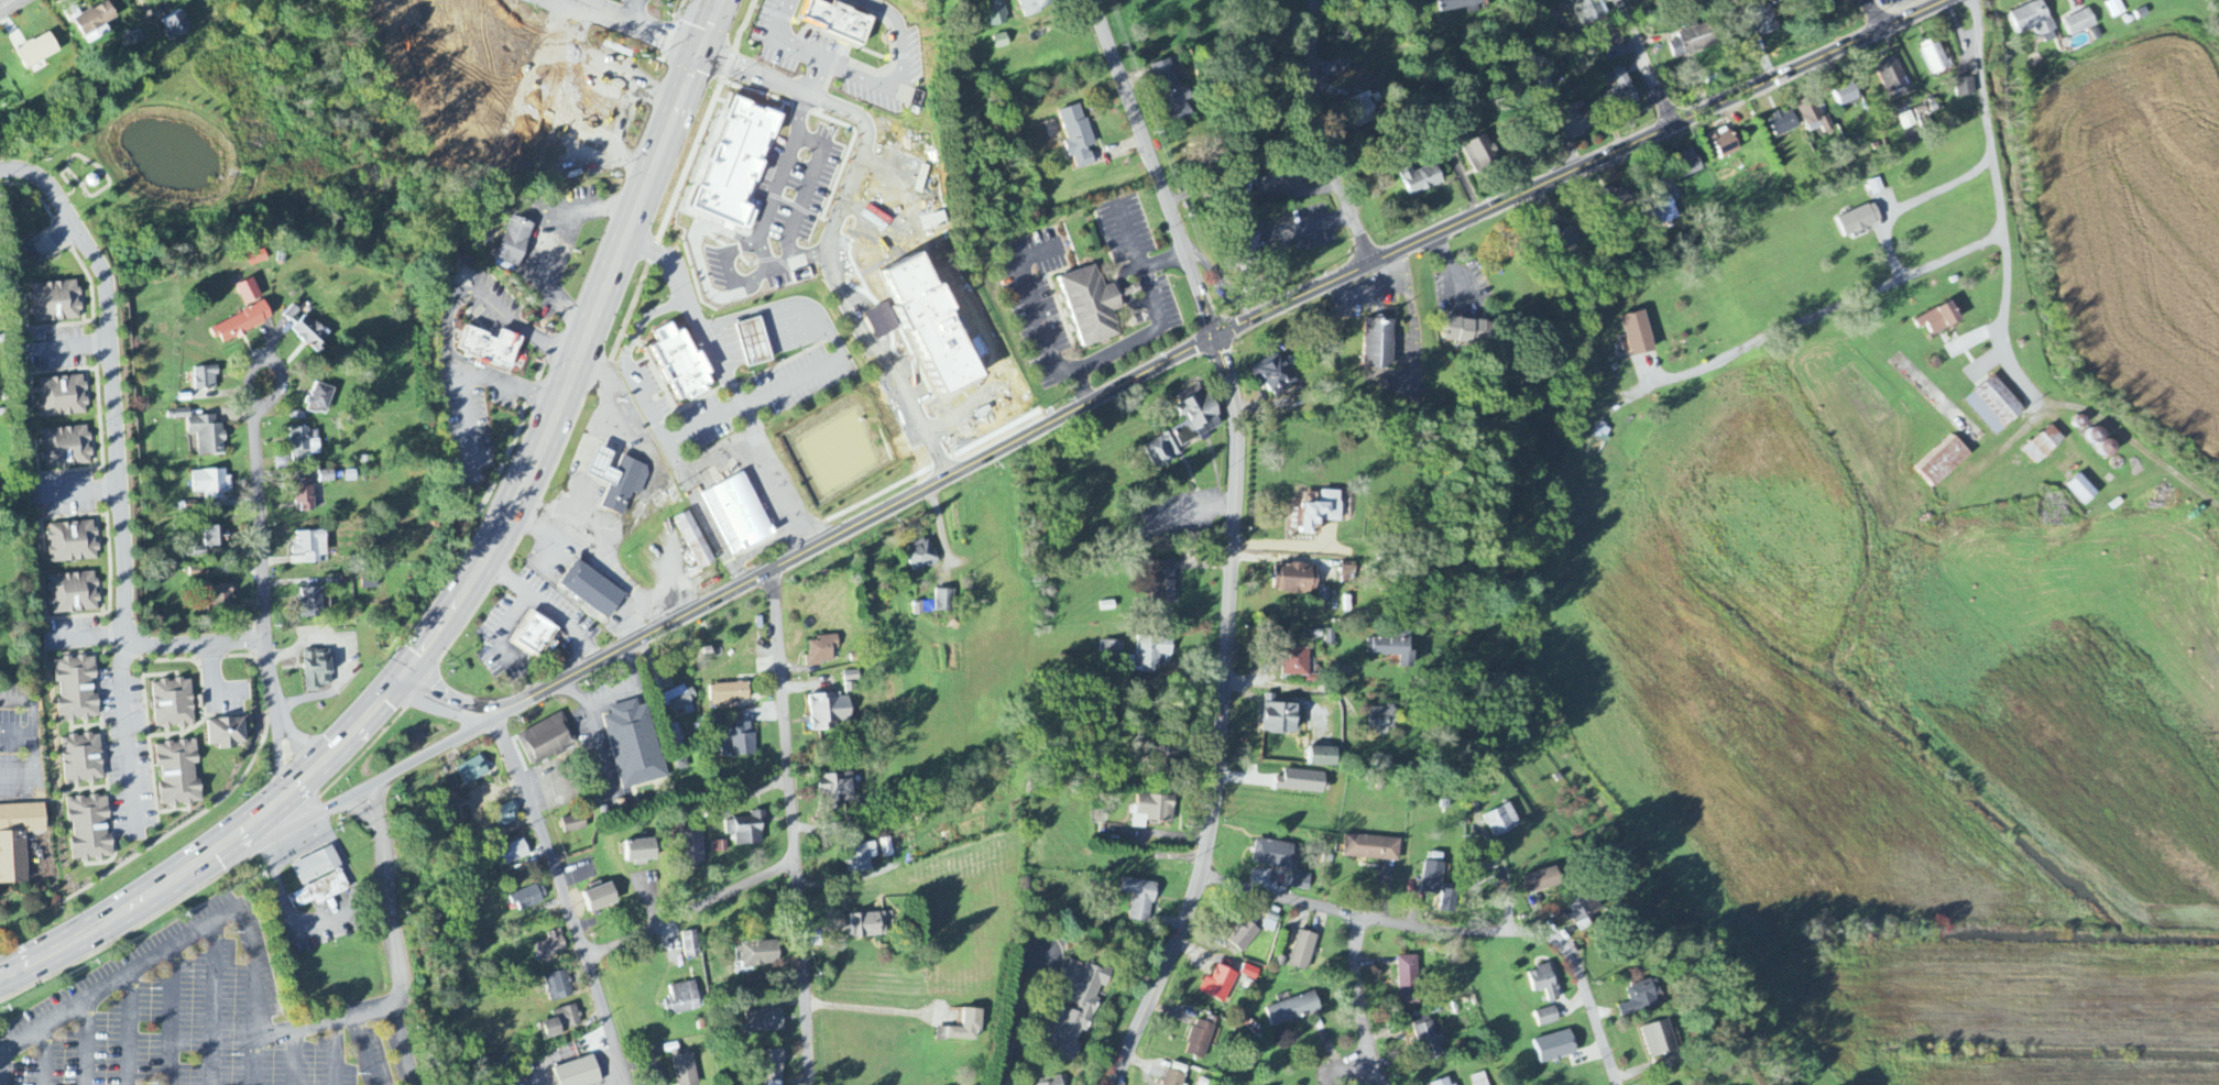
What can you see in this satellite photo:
road: (7, 3)
building: (1039, 6)
building: (1460, 6)
building: (2116, 9)
building: (1589, 11)
building: (999, 13)
road: (1873, 13)
road: (645, 15)
building: (2032, 20)
building: (1761, 22)
building: (95, 23)
building: (850, 23)
building: (2080, 23)
building: (175, 26)
road: (630, 28)
road: (904, 35)
building: (1614, 40)
building: (1693, 41)
building: (1003, 42)
road: (787, 45)
building: (37, 52)
traffic signals: (701, 55)
building: (1935, 57)
road: (1643, 62)
building: (1892, 76)
road: (758, 77)
road: (861, 78)
road: (824, 84)
building: (1966, 87)
building: (1619, 90)
building: (1173, 91)
building: (1845, 96)
building: (568, 99)
building: (1365, 109)
building: (1813, 116)
building: (1906, 121)
building: (1578, 122)
building: (1783, 123)
road: (1321, 135)
building: (1079, 136)
building: (1724, 144)
building: (1484, 156)
building: (1686, 164)
building: (736, 166)
road: (1154, 168)
building: (1422, 180)
building: (1876, 187)
building: (1242, 189)
building: (1614, 198)
road: (1914, 200)
building: (1662, 211)
building: (1860, 220)
building: (1566, 238)
building: (1251, 244)
building: (513, 245)
building: (256, 257)
road: (1935, 266)
road: (837, 285)
building: (249, 292)
road: (1370, 292)
building: (55, 303)
building: (1094, 306)
road: (2008, 310)
road: (447, 315)
road: (1412, 316)
building: (1939, 320)
building: (882, 322)
building: (242, 324)
building: (934, 328)
building: (1469, 332)
building: (310, 335)
building: (1639, 335)
building: (754, 343)
building: (1379, 346)
road: (581, 348)
building: (501, 351)
road: (1166, 362)
road: (1091, 363)
building: (691, 364)
building: (1275, 375)
building: (206, 379)
road: (729, 385)
road: (1082, 387)
building: (63, 397)
road: (269, 397)
building: (319, 399)
building: (1996, 406)
building: (1185, 427)
building: (205, 434)
building: (303, 446)
building: (2044, 446)
building: (66, 448)
road: (114, 448)
building: (1943, 462)
building: (326, 476)
building: (619, 481)
building: (211, 483)
building: (2083, 491)
building: (305, 500)
road: (641, 501)
building: (1323, 512)
road: (1187, 513)
building: (737, 515)
building: (211, 540)
building: (695, 541)
building: (72, 542)
building: (308, 548)
building: (920, 556)
building: (198, 573)
building: (1347, 573)
building: (1296, 580)
building: (369, 582)
building: (1166, 582)
building: (592, 590)
road: (637, 590)
building: (73, 594)
road: (264, 599)
building: (218, 600)
building: (944, 602)
building: (311, 603)
road: (548, 604)
road: (506, 626)
building: (536, 636)
building: (1392, 648)
building: (1112, 649)
building: (821, 651)
building: (1152, 654)
building: (1296, 662)
road: (341, 666)
building: (317, 670)
traffic signals: (403, 677)
road: (1280, 684)
building: (77, 689)
building: (729, 695)
building: (681, 701)
building: (173, 704)
building: (830, 712)
building: (1279, 717)
road: (1221, 719)
building: (1381, 721)
road: (124, 726)
road: (354, 731)
road: (18, 734)
building: (226, 734)
building: (547, 741)
building: (739, 742)
road: (35, 743)
building: (634, 745)
building: (1324, 757)
building: (83, 759)
building: (1162, 760)
building: (472, 771)
building: (178, 774)
traffic signals: (302, 780)
building: (1301, 782)
building: (837, 788)
road: (342, 800)
building: (1154, 810)
building: (720, 813)
building: (506, 815)
building: (1501, 822)
building: (573, 824)
road: (792, 826)
building: (90, 829)
road: (244, 829)
building: (747, 830)
building: (18, 840)
building: (693, 846)
building: (719, 847)
building: (1373, 848)
building: (642, 852)
building: (512, 853)
building: (1275, 855)
building: (860, 858)
building: (1474, 868)
road: (1505, 876)
building: (317, 877)
building: (1432, 878)
building: (1542, 880)
building: (1300, 881)
road: (565, 897)
building: (600, 897)
building: (529, 898)
building: (1139, 899)
building: (1449, 901)
building: (1583, 911)
road: (691, 912)
road: (1367, 918)
building: (868, 927)
road: (94, 929)
building: (1244, 935)
building: (690, 945)
building: (551, 946)
building: (1303, 951)
building: (757, 954)
road: (401, 965)
building: (1249, 973)
building: (753, 980)
building: (1408, 980)
building: (1544, 982)
building: (1218, 985)
building: (559, 987)
road: (103, 989)
road: (256, 995)
building: (1640, 998)
building: (681, 999)
road: (215, 1001)
road: (1587, 1001)
road: (1358, 1002)
building: (1084, 1009)
building: (1293, 1009)
road: (884, 1010)
road: (173, 1015)
road: (1010, 1015)
parking lot: (184, 1017)
building: (1548, 1017)
building: (765, 1019)
building: (564, 1021)
building: (964, 1027)
road: (131, 1028)
building: (1426, 1035)
building: (1659, 1039)
building: (1200, 1040)
road: (86, 1042)
road: (400, 1044)
building: (1555, 1046)
road: (365, 1049)
road: (335, 1051)
road: (43, 1055)
road: (295, 1056)
building: (772, 1067)
building: (579, 1073)
building: (1479, 1079)
building: (1442, 1082)
building: (1050, 1084)
building: (1455, 1084)

